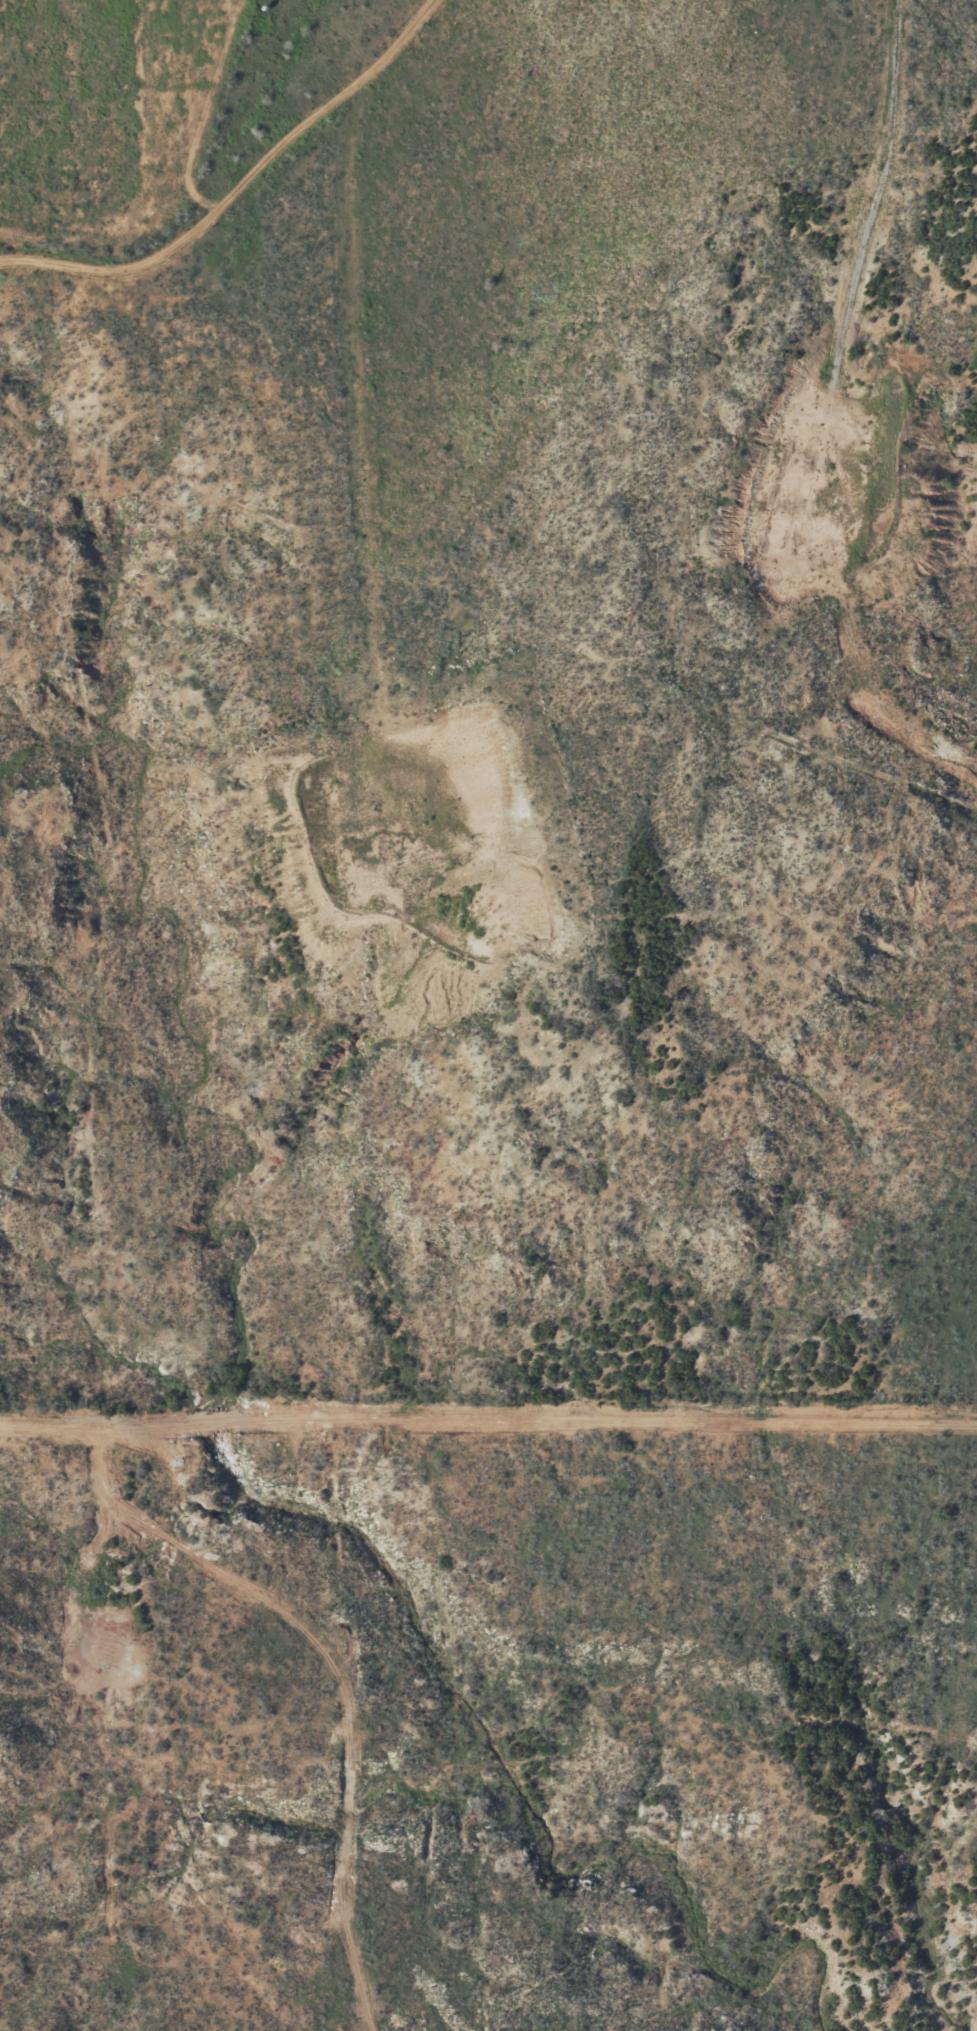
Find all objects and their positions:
road: (259, 190)

